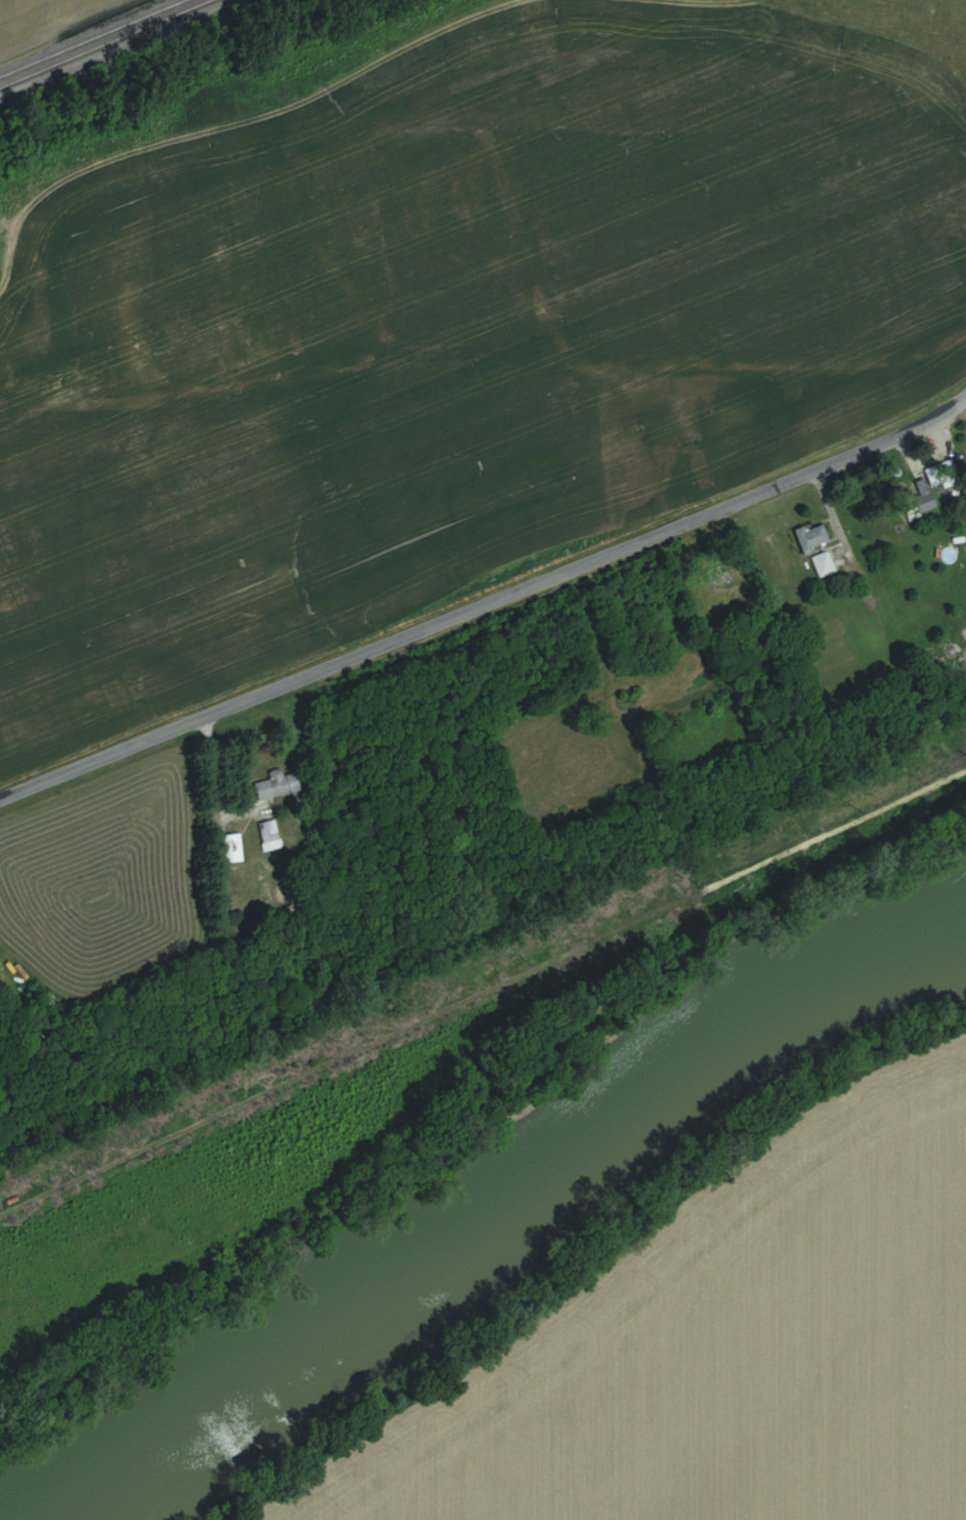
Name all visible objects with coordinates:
railway: (92, 38)
railway: (107, 44)
crop: (432, 342)
road: (484, 352)
road: (937, 412)
building: (943, 436)
building: (941, 472)
building: (815, 537)
building: (827, 564)
road: (454, 614)
road: (592, 658)
road: (212, 783)
building: (277, 783)
building: (271, 835)
building: (235, 847)
river: (513, 1203)

